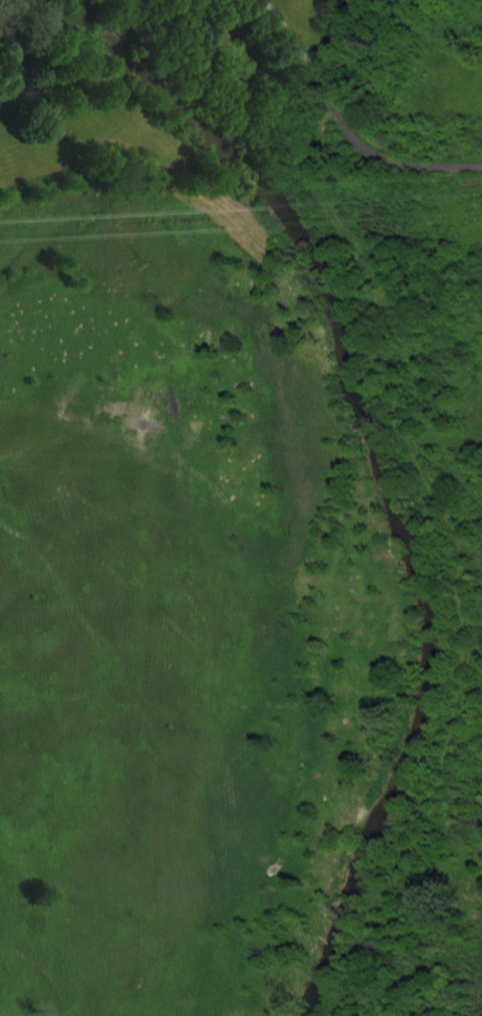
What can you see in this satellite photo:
road: (346, 124)

